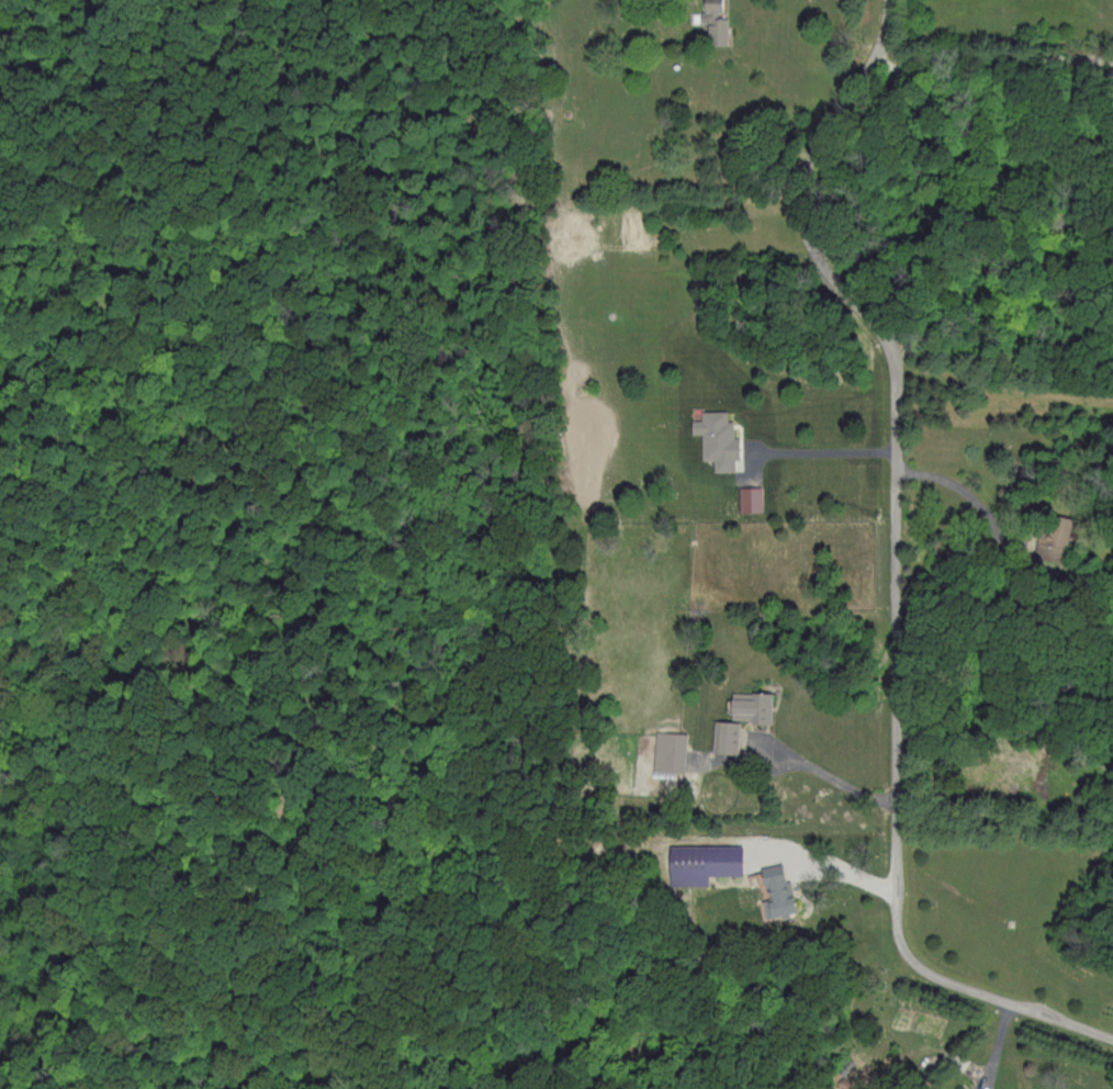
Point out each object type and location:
building: (709, 20)
road: (991, 59)
road: (992, 257)
building: (711, 438)
road: (822, 449)
road: (967, 492)
building: (744, 498)
road: (895, 565)
building: (744, 704)
building: (721, 734)
building: (664, 750)
road: (824, 772)
building: (697, 862)
road: (843, 866)

